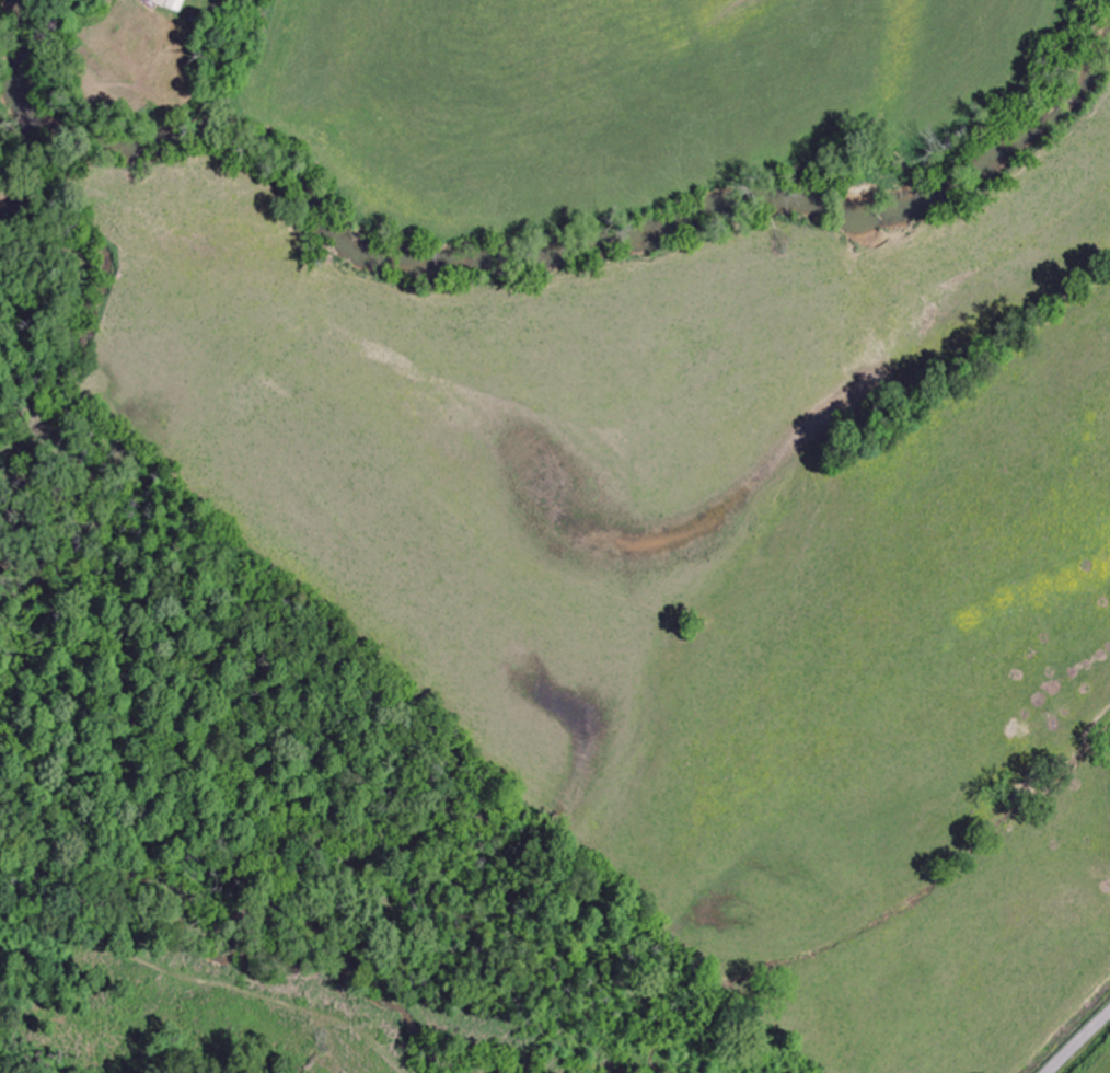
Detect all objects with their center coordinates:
building: (170, 4)
road: (1079, 1042)

